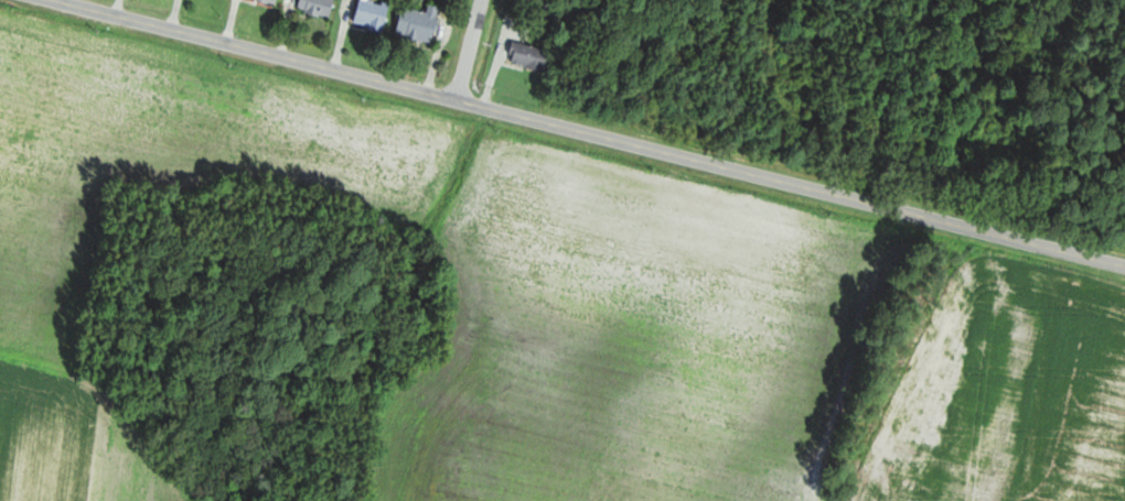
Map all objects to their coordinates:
building: (274, 1)
building: (320, 7)
building: (375, 14)
building: (422, 23)
building: (532, 55)
road: (579, 137)

